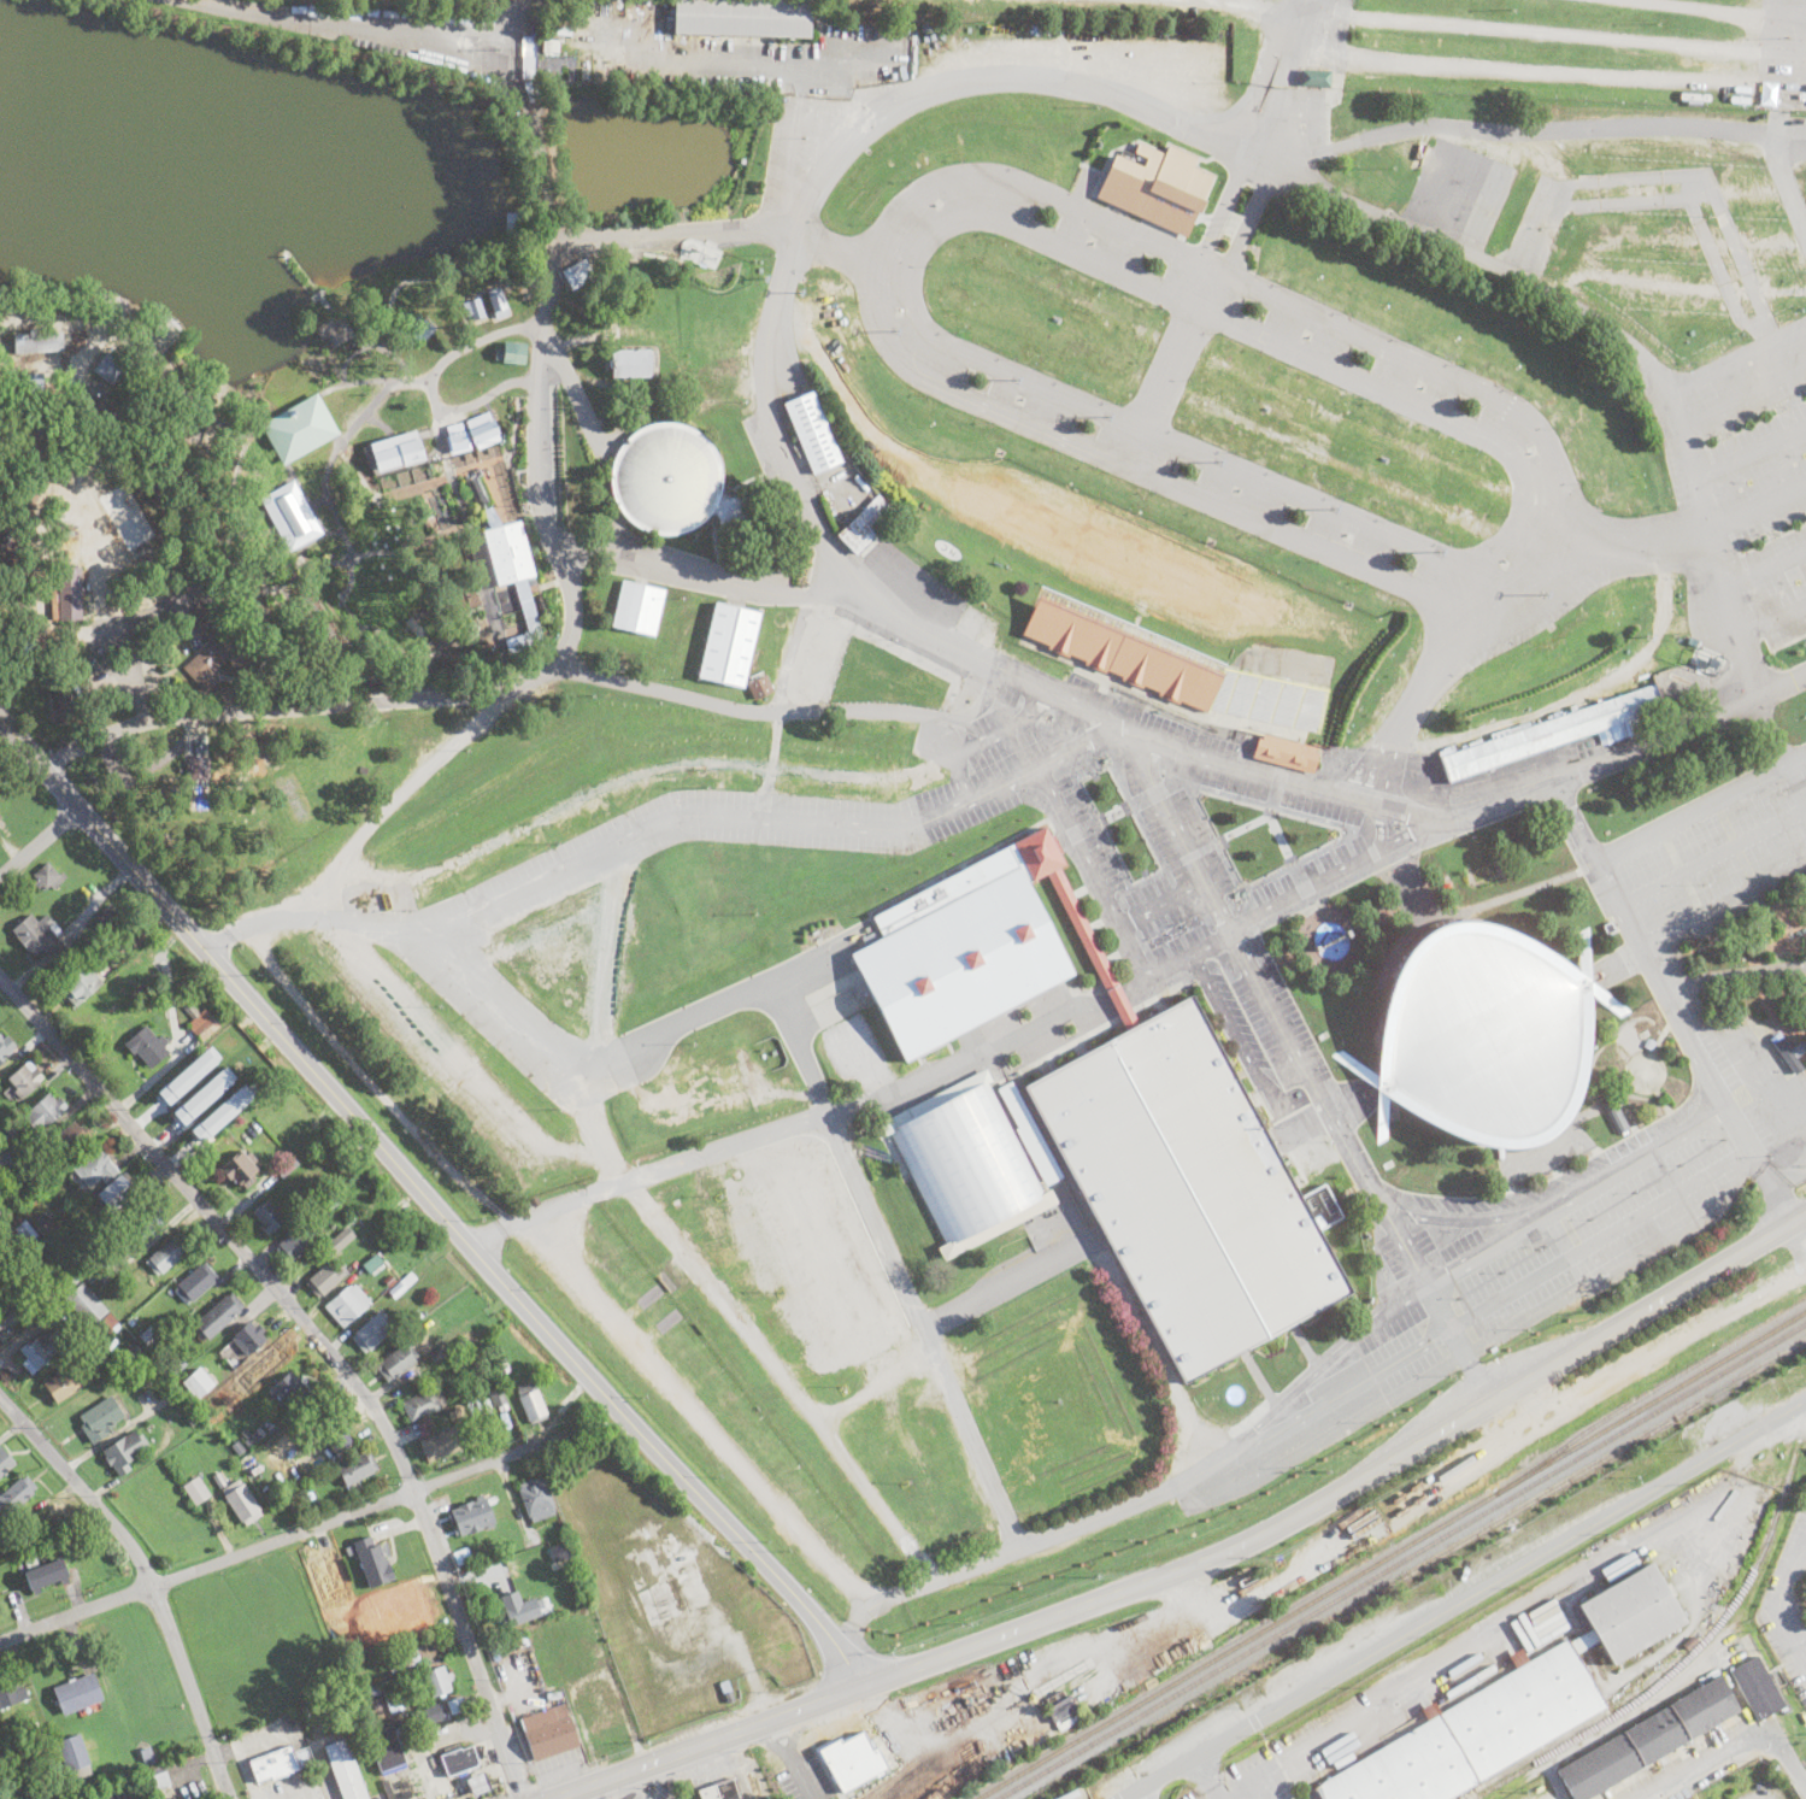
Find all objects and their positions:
road: (1230, 4)
parking lot: (1106, 6)
road: (1702, 8)
building: (743, 17)
road: (1790, 17)
road: (387, 24)
road: (1300, 24)
road: (1540, 29)
road: (1789, 43)
building: (549, 46)
parking lot: (1563, 46)
parking lot: (1782, 54)
road: (1771, 59)
road: (761, 64)
road: (1531, 66)
building: (1312, 77)
road: (1776, 114)
building: (1787, 122)
road: (1566, 127)
road: (1790, 146)
road: (793, 147)
road: (1260, 158)
building: (1152, 183)
building: (512, 223)
road: (673, 234)
road: (792, 234)
road: (880, 237)
road: (1477, 253)
road: (914, 255)
aerialway pylon: (716, 259)
building: (1011, 268)
building: (573, 275)
road: (1233, 276)
aerialway pylon: (765, 280)
aerialway pylon: (800, 293)
building: (496, 302)
building: (472, 311)
building: (714, 325)
building: (641, 328)
road: (1804, 329)
building: (325, 330)
building: (418, 330)
aerialway pylon: (895, 331)
building: (37, 340)
road: (324, 346)
building: (511, 351)
building: (630, 363)
building: (716, 366)
building: (112, 368)
road: (1169, 368)
road: (166, 370)
road: (276, 374)
road: (427, 377)
building: (34, 380)
aerialway pylon: (1016, 380)
road: (1670, 386)
road: (571, 390)
road: (1745, 392)
road: (1386, 395)
road: (376, 399)
building: (111, 415)
aerialway pylon: (1107, 417)
building: (296, 428)
building: (195, 429)
building: (480, 431)
building: (812, 433)
building: (455, 435)
road: (1161, 437)
building: (394, 449)
building: (1588, 451)
road: (1753, 451)
aerialway pylon: (1218, 461)
building: (673, 482)
building: (1679, 489)
building: (476, 490)
road: (1331, 505)
road: (1761, 506)
aerialway pylon: (1334, 508)
building: (1464, 508)
building: (127, 515)
building: (290, 515)
building: (490, 517)
building: (864, 529)
road: (1530, 534)
road: (1625, 545)
building: (67, 546)
building: (154, 548)
aerialway pylon: (1440, 551)
building: (502, 554)
building: (261, 562)
road: (1766, 569)
road: (702, 572)
building: (71, 592)
aerialway pylon: (1545, 593)
building: (537, 601)
building: (637, 607)
road: (1734, 611)
building: (529, 612)
building: (457, 613)
road: (113, 615)
road: (572, 615)
road: (1773, 621)
building: (418, 630)
building: (373, 631)
aerialway pylon: (1647, 634)
building: (729, 645)
building: (218, 648)
building: (57, 651)
building: (869, 664)
building: (1173, 666)
building: (1078, 680)
building: (760, 687)
building: (66, 688)
road: (1578, 694)
road: (1410, 709)
road: (787, 710)
road: (1679, 730)
road: (1769, 730)
road: (995, 733)
building: (1551, 733)
road: (1094, 736)
building: (1286, 752)
building: (976, 759)
building: (198, 768)
building: (1422, 771)
road: (623, 777)
road: (959, 777)
road: (416, 780)
road: (1295, 782)
road: (1496, 806)
road: (1699, 806)
building: (0, 816)
road: (1382, 828)
road: (39, 843)
road: (617, 843)
building: (48, 877)
building: (1446, 887)
road: (320, 895)
road: (1164, 904)
building: (105, 915)
building: (1070, 915)
building: (1607, 925)
building: (40, 935)
building: (418, 948)
building: (954, 951)
road: (1189, 952)
building: (1583, 954)
building: (396, 960)
road: (1660, 984)
building: (81, 986)
building: (1606, 1000)
building: (1766, 1003)
building: (201, 1022)
building: (1483, 1035)
road: (1286, 1037)
road: (1237, 1042)
building: (1649, 1042)
building: (851, 1045)
building: (5, 1046)
building: (148, 1046)
road: (460, 1056)
building: (1746, 1059)
building: (1359, 1065)
road: (813, 1070)
building: (1645, 1071)
building: (189, 1074)
building: (25, 1077)
building: (202, 1095)
building: (684, 1103)
building: (247, 1104)
building: (45, 1112)
building: (222, 1112)
building: (1382, 1112)
road: (1313, 1117)
building: (1616, 1117)
building: (200, 1121)
building: (1767, 1125)
road: (778, 1128)
building: (13, 1129)
building: (1030, 1134)
building: (69, 1140)
building: (331, 1141)
building: (1410, 1153)
building: (5, 1162)
building: (966, 1163)
building: (95, 1168)
building: (239, 1169)
building: (286, 1169)
building: (1711, 1171)
road: (1787, 1171)
building: (1188, 1189)
building: (117, 1192)
road: (1578, 1195)
building: (328, 1203)
road: (1778, 1203)
road: (431, 1205)
building: (6, 1215)
building: (269, 1217)
road: (1469, 1218)
building: (45, 1219)
building: (143, 1222)
building: (23, 1228)
road: (1598, 1233)
road: (1798, 1236)
building: (296, 1242)
building: (334, 1245)
building: (1441, 1247)
building: (167, 1256)
building: (828, 1257)
building: (375, 1262)
road: (1107, 1270)
building: (66, 1277)
building: (125, 1280)
building: (325, 1280)
building: (1531, 1280)
building: (389, 1281)
building: (195, 1283)
building: (402, 1284)
building: (87, 1304)
building: (347, 1304)
building: (222, 1312)
building: (10, 1316)
building: (417, 1316)
building: (107, 1321)
road: (745, 1327)
building: (372, 1333)
building: (149, 1336)
building: (248, 1336)
building: (496, 1338)
building: (458, 1344)
road: (327, 1347)
building: (157, 1350)
building: (41, 1351)
building: (131, 1351)
building: (65, 1353)
building: (439, 1354)
building: (398, 1364)
building: (502, 1365)
road: (1323, 1365)
building: (171, 1374)
building: (223, 1377)
building: (1383, 1377)
building: (186, 1380)
building: (66, 1381)
road: (876, 1382)
road: (1595, 1387)
building: (199, 1388)
building: (290, 1391)
building: (498, 1398)
building: (484, 1399)
parking lot: (1579, 1400)
building: (530, 1403)
road: (1530, 1403)
building: (423, 1404)
road: (699, 1410)
building: (453, 1415)
building: (100, 1418)
building: (193, 1418)
railway: (1601, 1423)
building: (1306, 1429)
building: (253, 1434)
building: (339, 1436)
building: (439, 1445)
building: (239, 1446)
building: (124, 1453)
building: (5, 1462)
building: (358, 1468)
railway: (1573, 1474)
building: (219, 1480)
road: (1189, 1480)
building: (195, 1488)
building: (307, 1493)
building: (16, 1495)
building: (536, 1500)
building: (243, 1501)
building: (1028, 1506)
building: (470, 1516)
road: (281, 1541)
building: (349, 1551)
building: (560, 1552)
railway: (1389, 1553)
building: (461, 1556)
building: (501, 1556)
railway: (1400, 1560)
building: (373, 1562)
road: (1201, 1562)
building: (328, 1569)
building: (45, 1575)
road: (147, 1578)
road: (1463, 1600)
road: (1778, 1603)
road: (1219, 1607)
building: (519, 1609)
road: (1198, 1611)
building: (1631, 1613)
building: (535, 1634)
building: (1746, 1638)
railway: (1694, 1647)
road: (1061, 1654)
building: (404, 1658)
parking lot: (1083, 1668)
building: (437, 1681)
building: (726, 1688)
building: (549, 1689)
building: (1760, 1689)
building: (11, 1691)
building: (77, 1693)
building: (390, 1695)
building: (601, 1700)
building: (455, 1705)
building: (1060, 1705)
building: (380, 1716)
building: (427, 1716)
building: (29, 1727)
building: (378, 1729)
road: (948, 1730)
building: (549, 1733)
building: (1475, 1733)
building: (5, 1734)
building: (1648, 1739)
road: (976, 1747)
road: (1734, 1750)
building: (186, 1753)
building: (73, 1756)
building: (302, 1757)
road: (790, 1758)
building: (853, 1758)
building: (459, 1760)
building: (275, 1764)
parking lot: (796, 1766)
building: (345, 1770)
building: (155, 1771)
road: (1208, 1776)
building: (478, 1783)
building: (388, 1788)
building: (722, 1791)
road: (1135, 1795)
building: (45, 1797)
road: (119, 1797)
building: (69, 1798)

